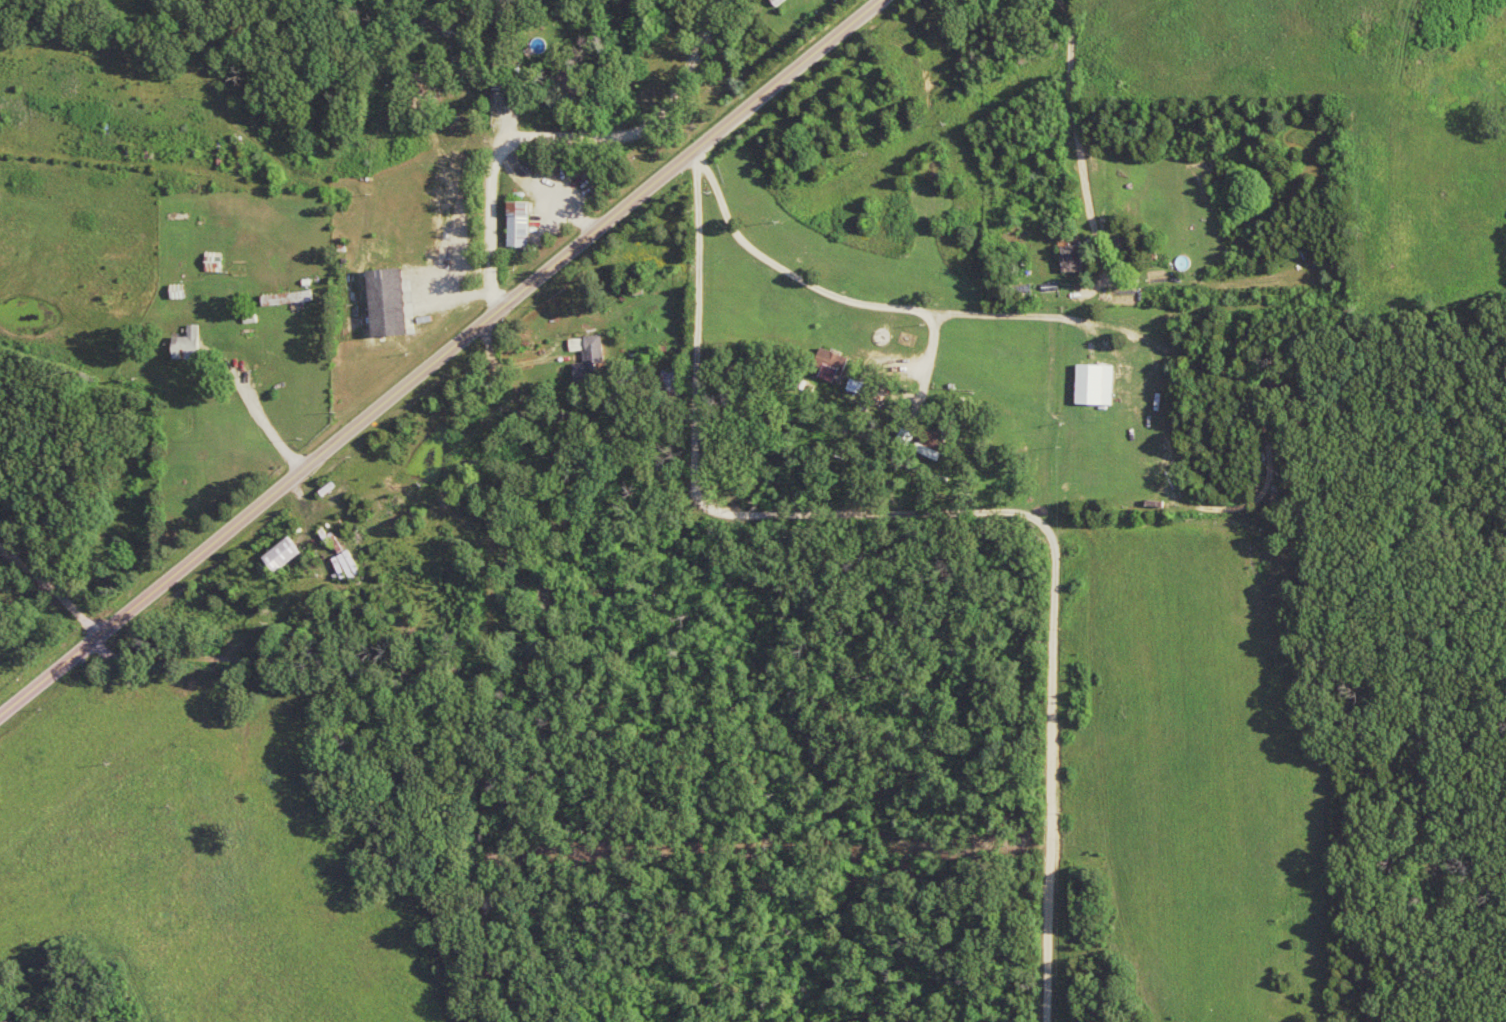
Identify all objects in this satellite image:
building: (507, 11)
road: (693, 67)
building: (508, 80)
building: (568, 88)
building: (524, 223)
building: (1077, 255)
road: (833, 293)
building: (394, 301)
building: (192, 344)
building: (580, 344)
road: (440, 355)
building: (835, 363)
building: (1100, 384)
building: (860, 386)
road: (254, 408)
building: (910, 436)
building: (934, 445)
road: (949, 514)
building: (287, 554)
road: (48, 587)

